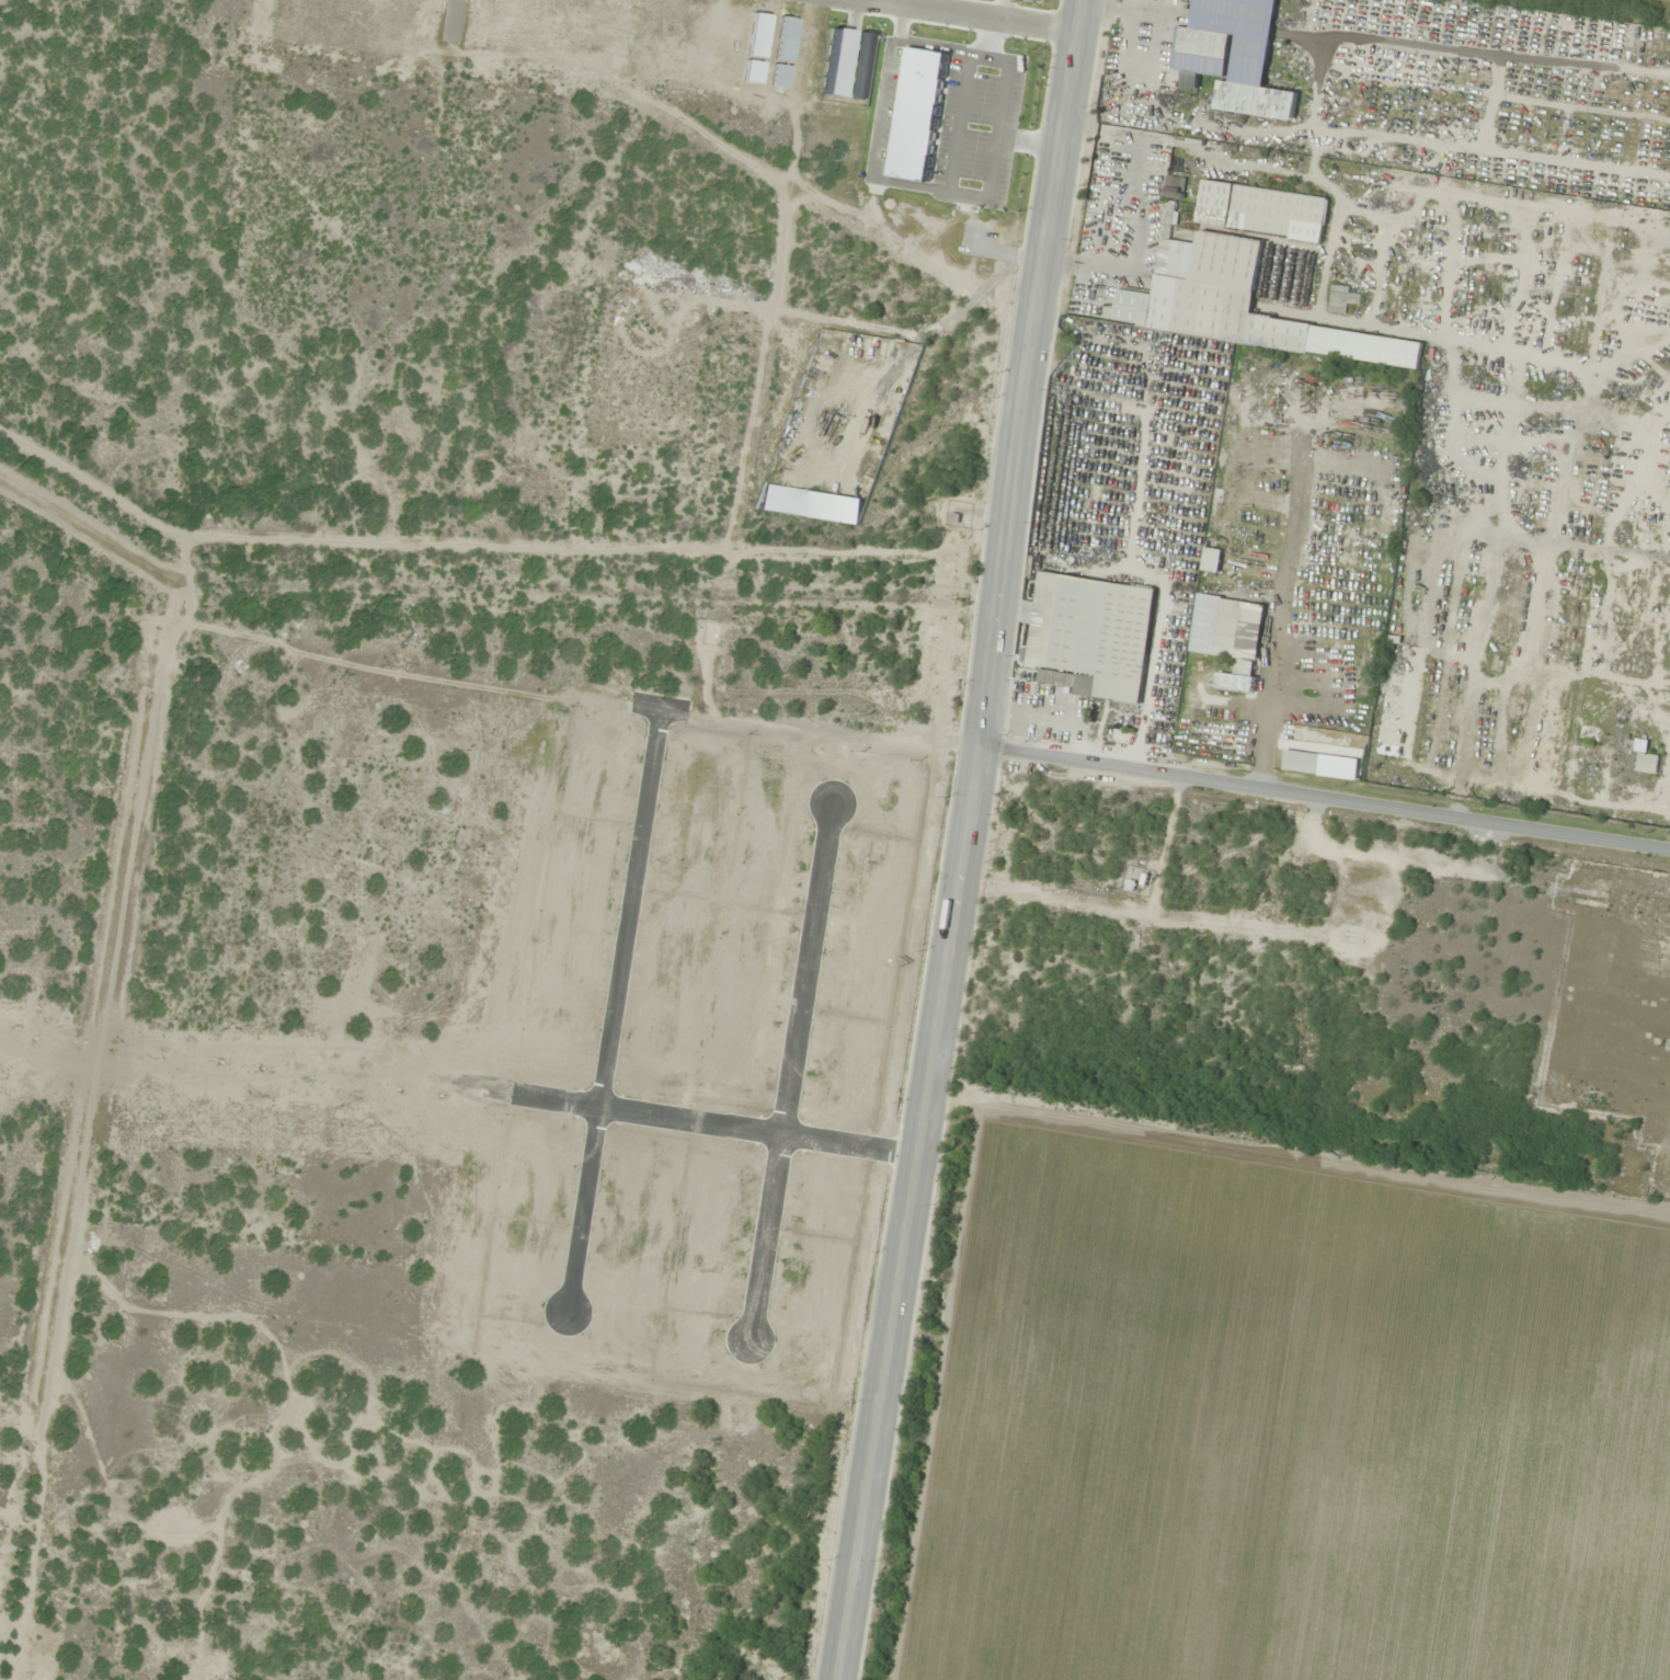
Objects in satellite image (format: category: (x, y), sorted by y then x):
road: (964, 18)
building: (1233, 56)
building: (1262, 212)
building: (1238, 305)
building: (1212, 560)
building: (1239, 629)
building: (1093, 631)
building: (1236, 683)
building: (1079, 684)
building: (1643, 755)
building: (1301, 762)
road: (1325, 810)
road: (968, 841)
road: (609, 1025)
road: (789, 1073)
road: (716, 1128)

